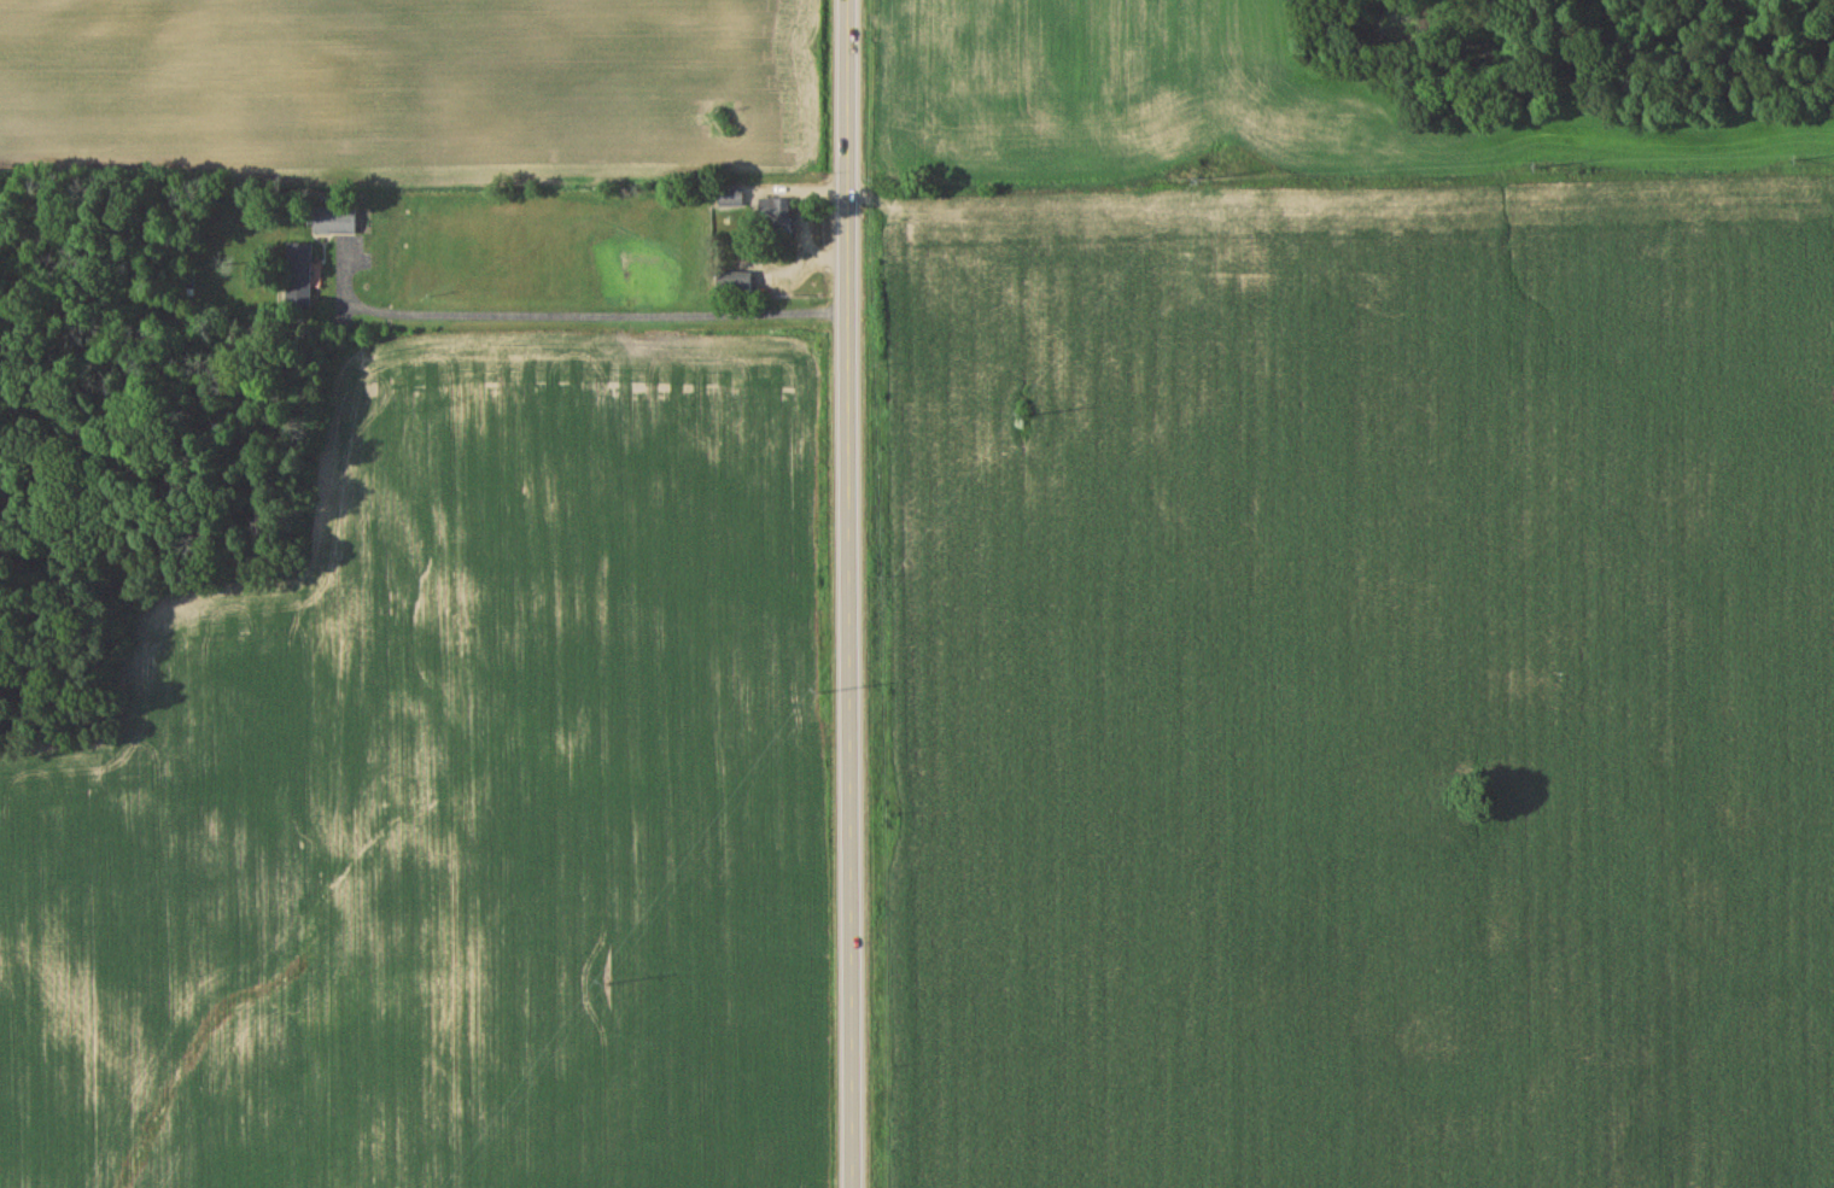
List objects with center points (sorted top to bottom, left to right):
building: (730, 195)
building: (775, 215)
building: (334, 220)
building: (298, 273)
building: (734, 280)
road: (571, 299)
road: (847, 593)

